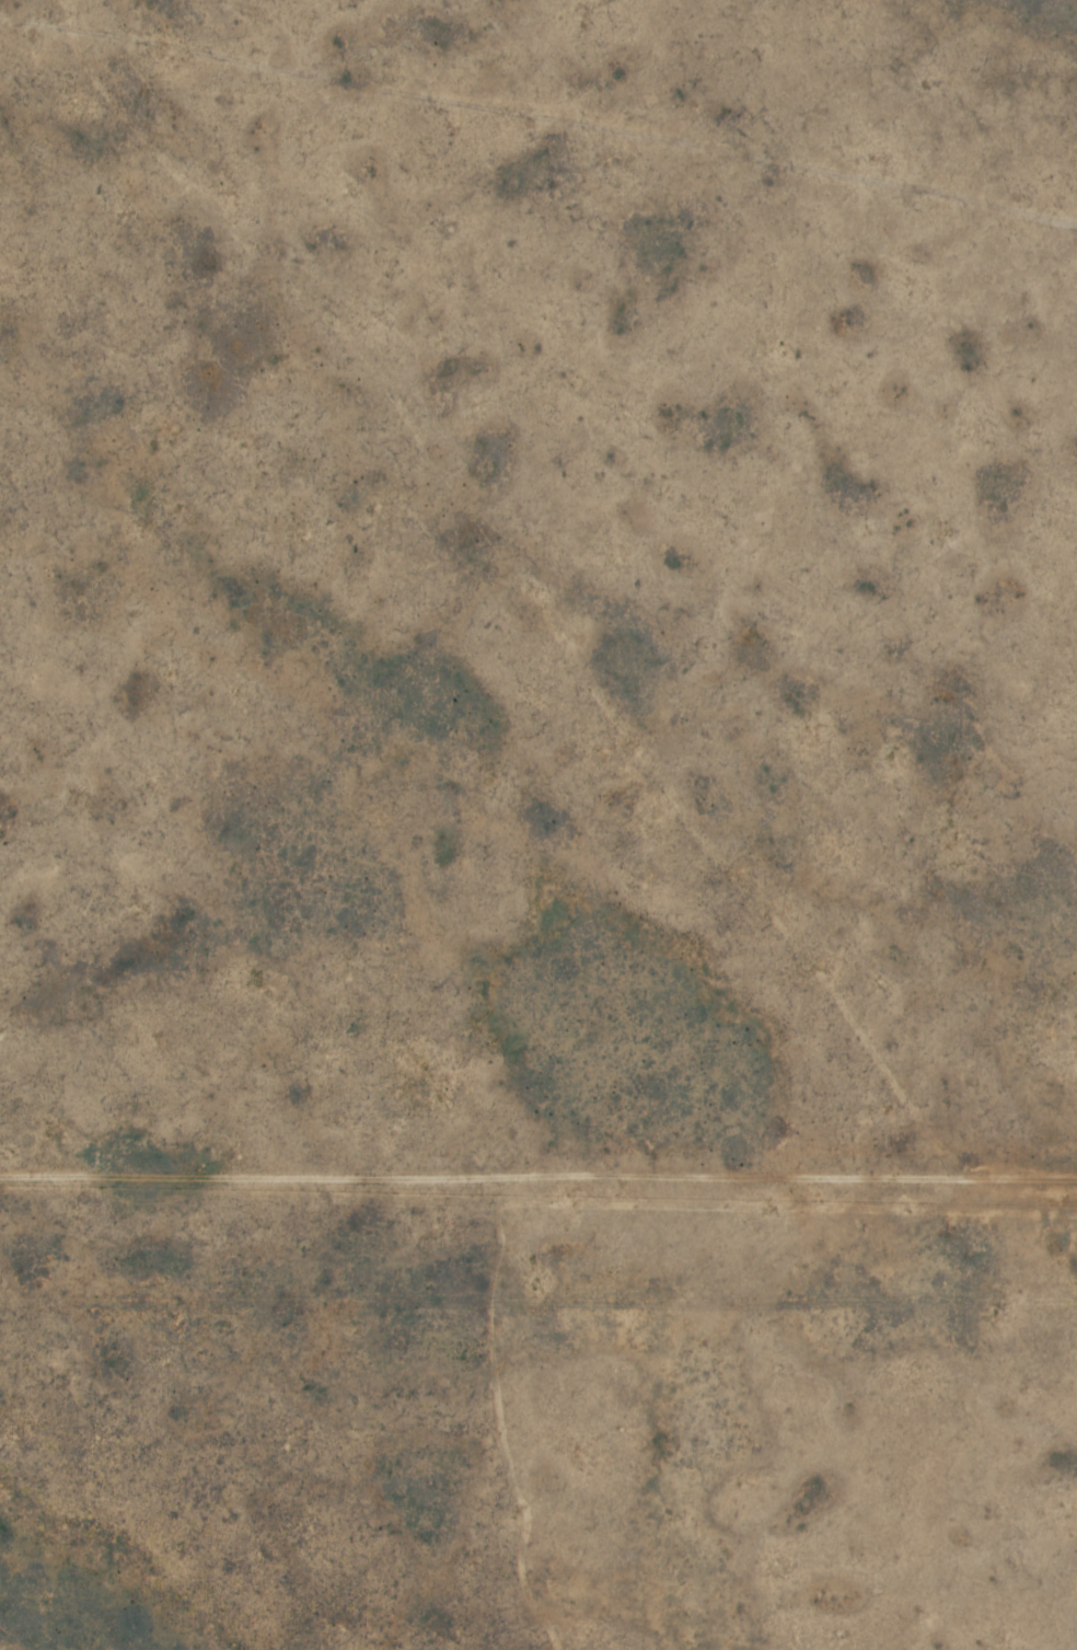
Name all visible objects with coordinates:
road: (538, 1101)

